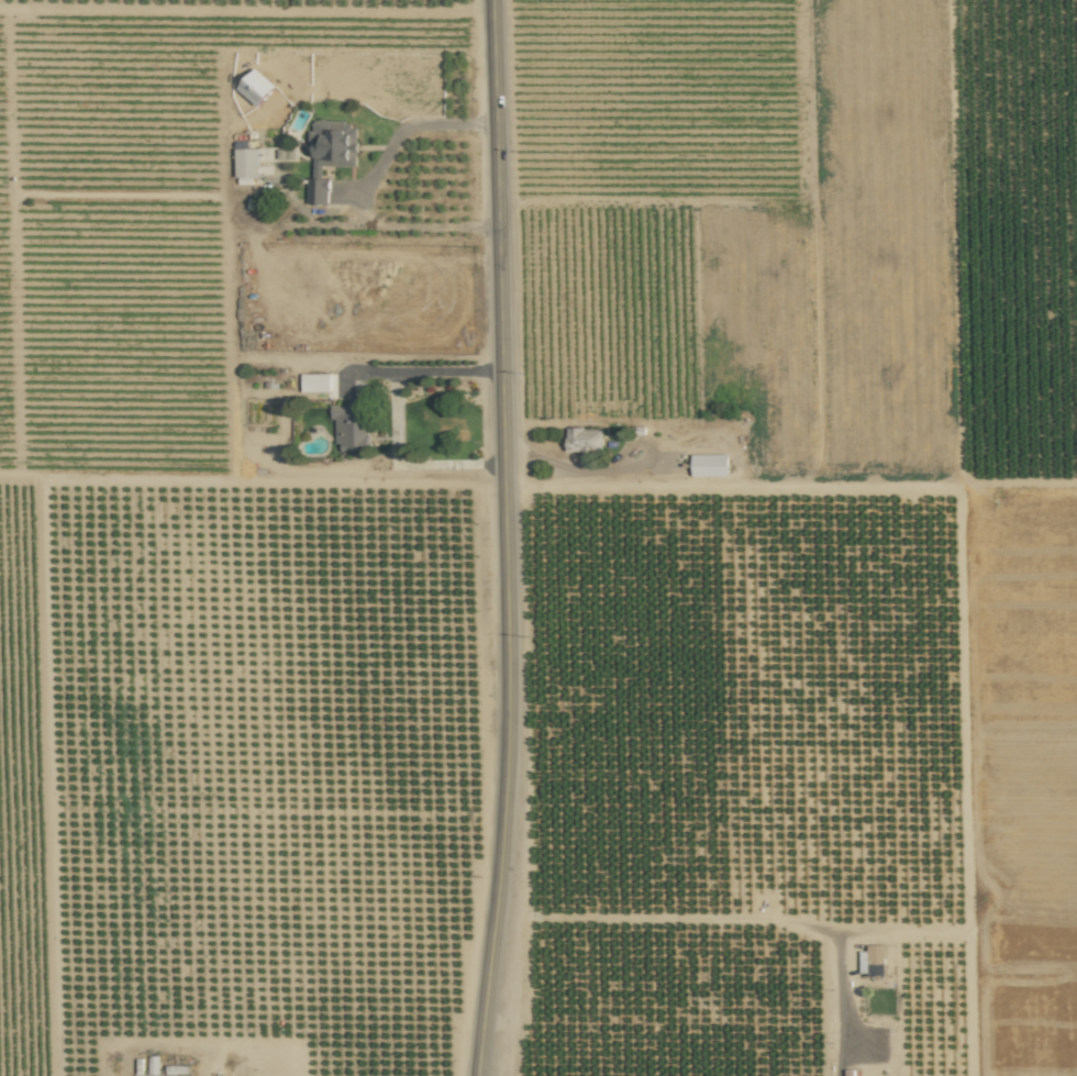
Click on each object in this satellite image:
building: (256, 87)
road: (410, 126)
building: (330, 154)
building: (247, 163)
road: (424, 373)
building: (315, 382)
building: (353, 424)
building: (584, 439)
road: (407, 463)
building: (710, 465)
road: (579, 468)
road: (508, 539)
road: (736, 918)
building: (873, 961)
building: (156, 1075)

